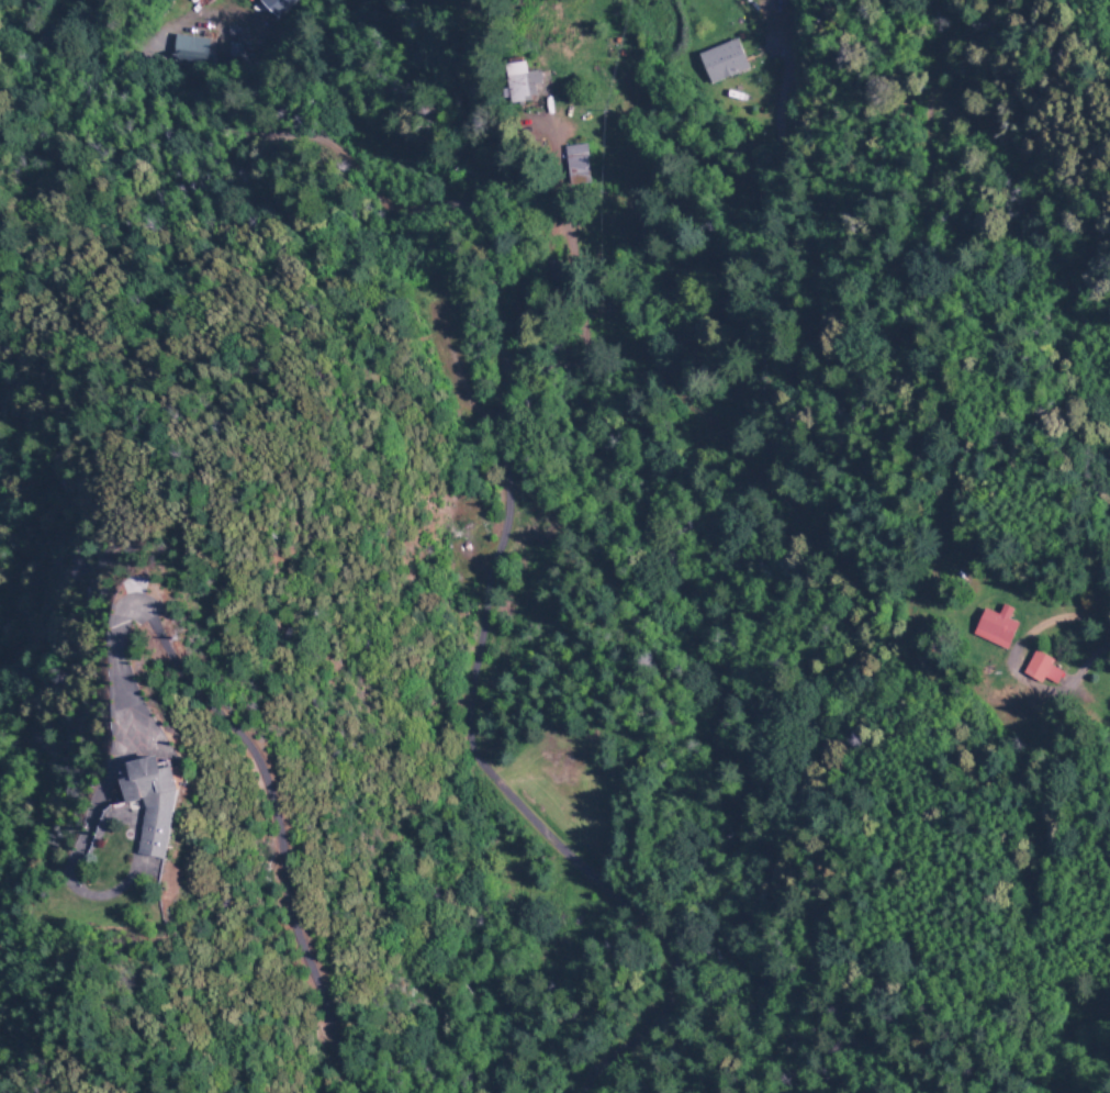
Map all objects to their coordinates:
building: (274, 4)
building: (191, 48)
building: (724, 59)
building: (520, 81)
building: (576, 161)
road: (278, 169)
road: (476, 317)
road: (556, 421)
road: (700, 559)
building: (996, 625)
building: (1042, 667)
road: (340, 772)
building: (162, 802)
road: (164, 874)
road: (863, 904)

